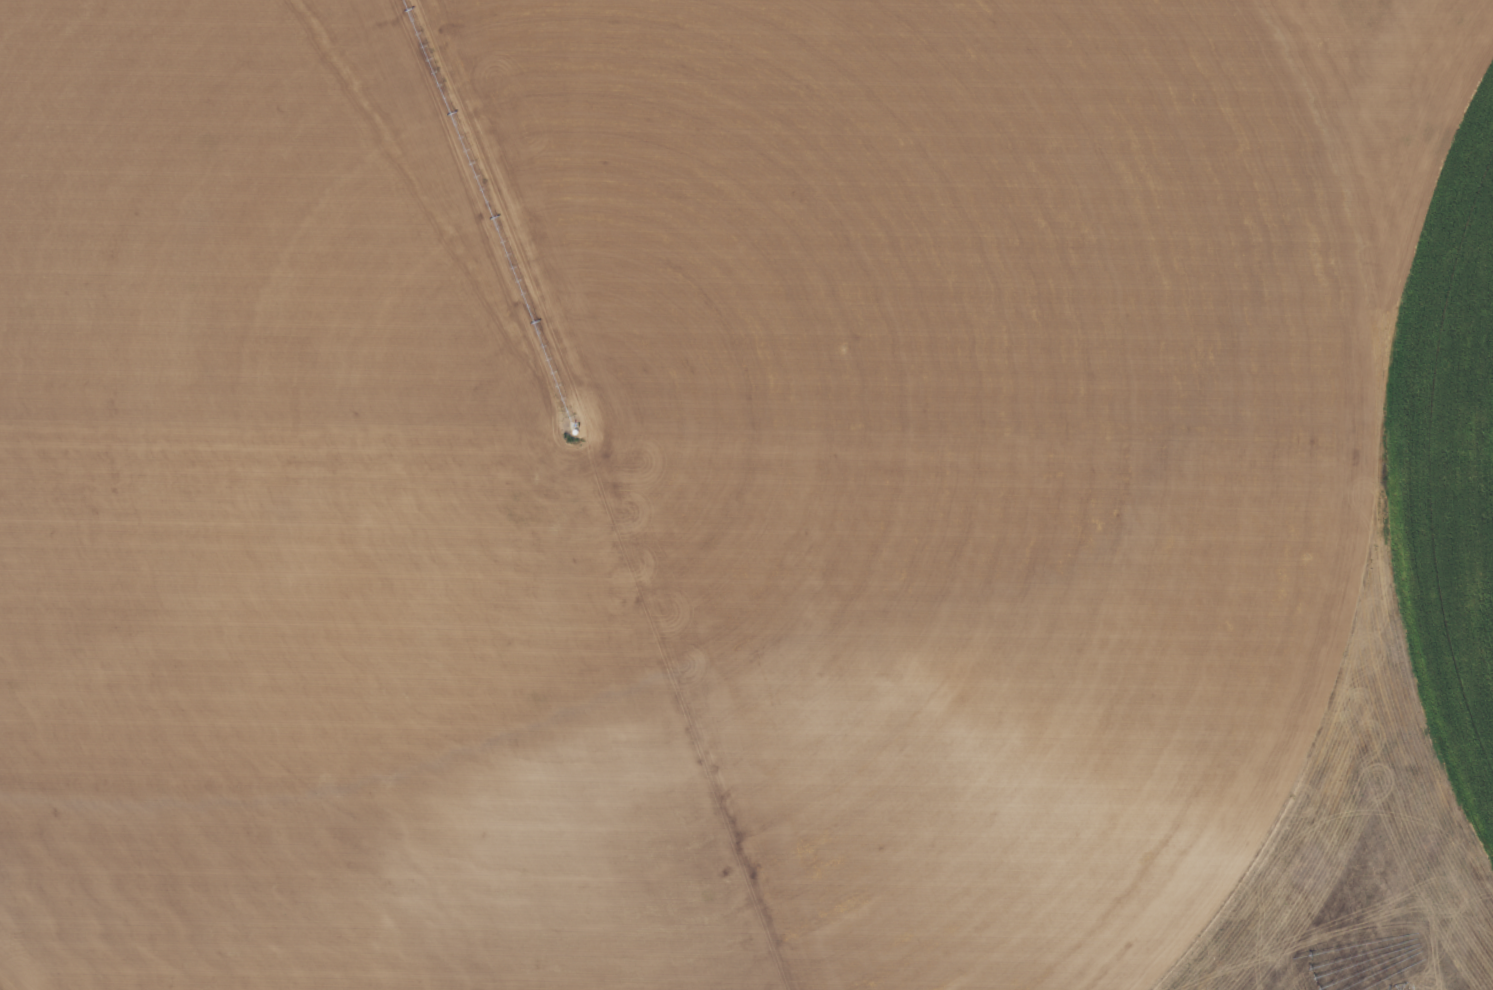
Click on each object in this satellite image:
crop: (746, 495)

